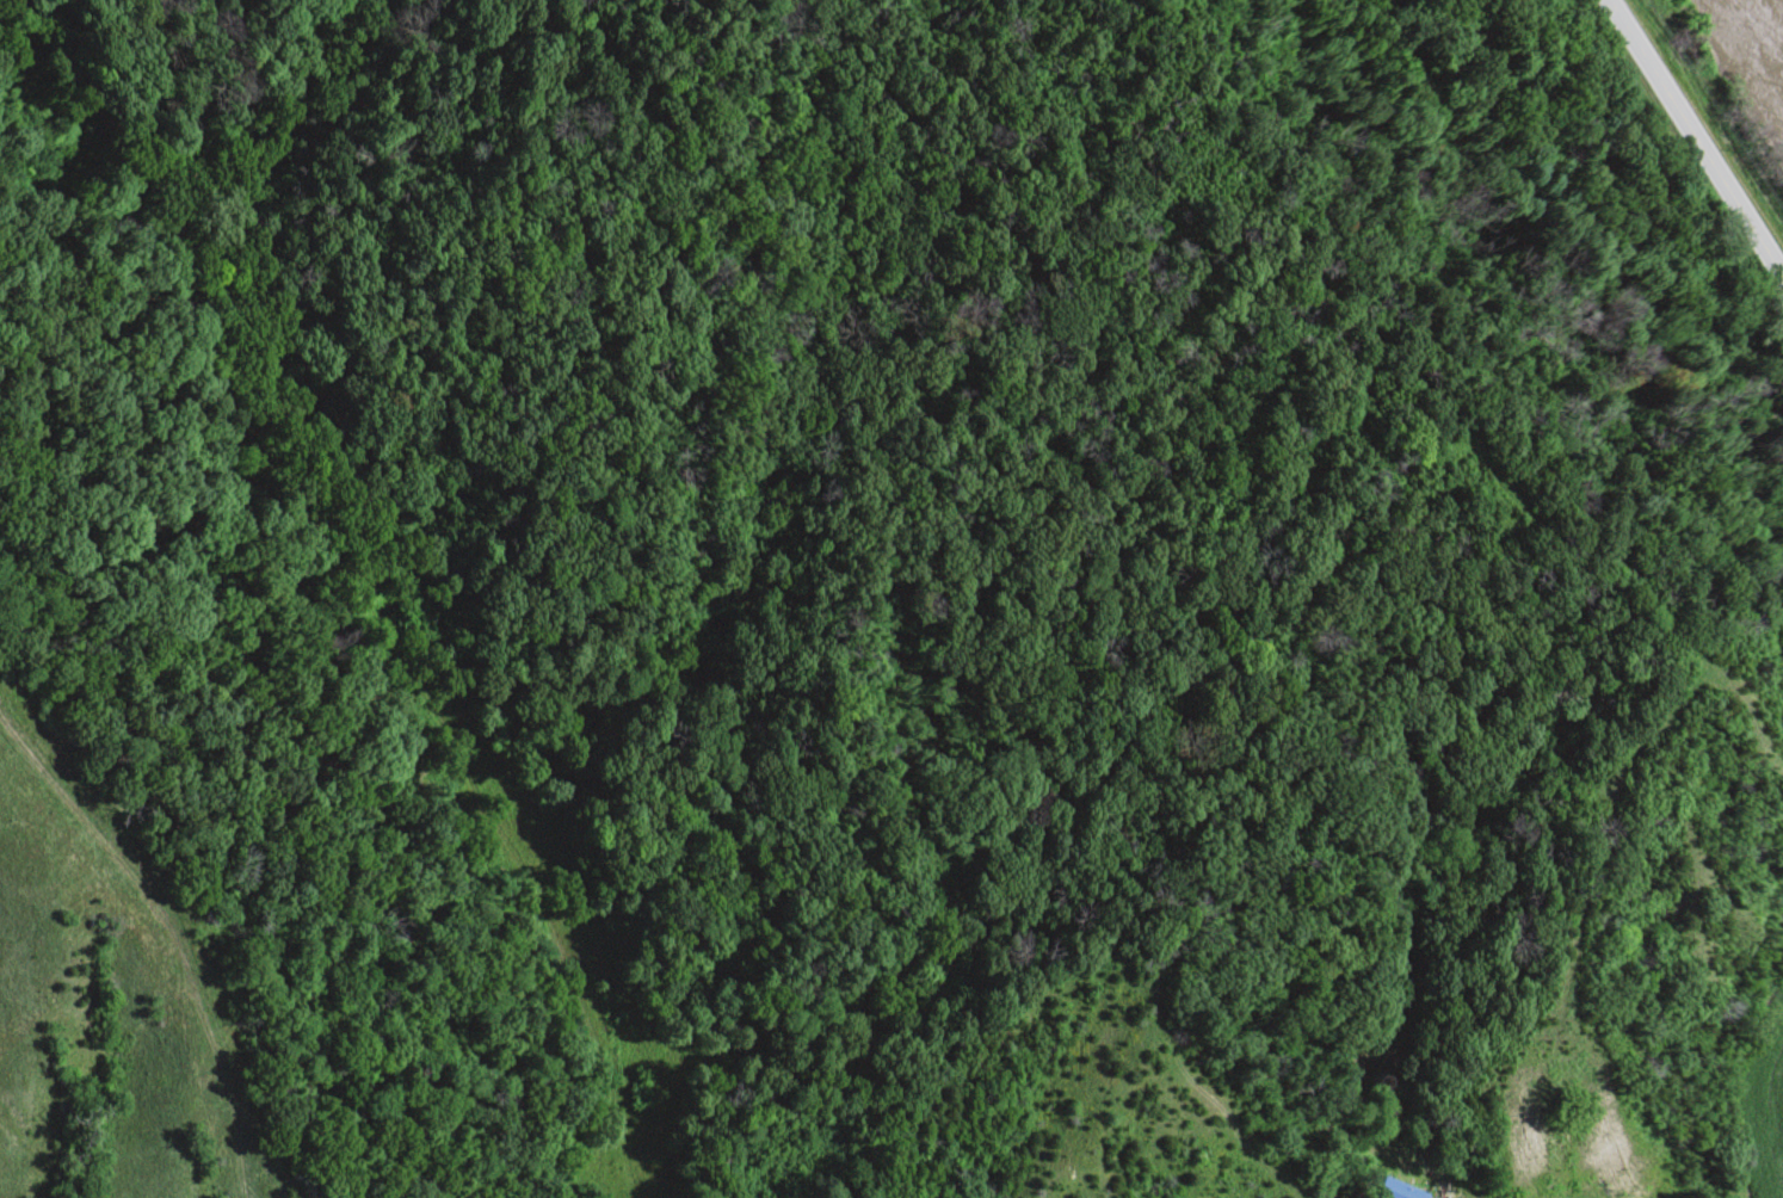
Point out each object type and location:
road: (1697, 134)

